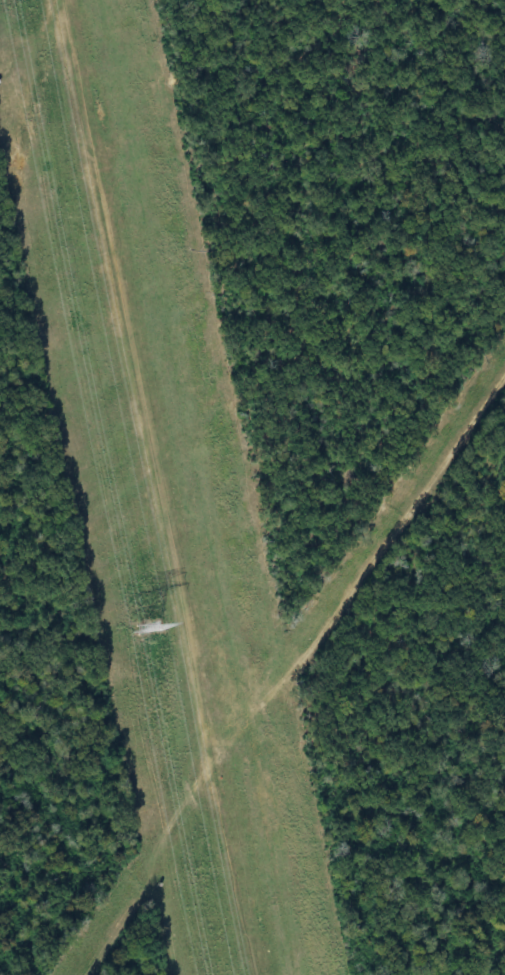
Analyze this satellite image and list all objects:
railway: (359, 487)
power tower: (150, 626)

